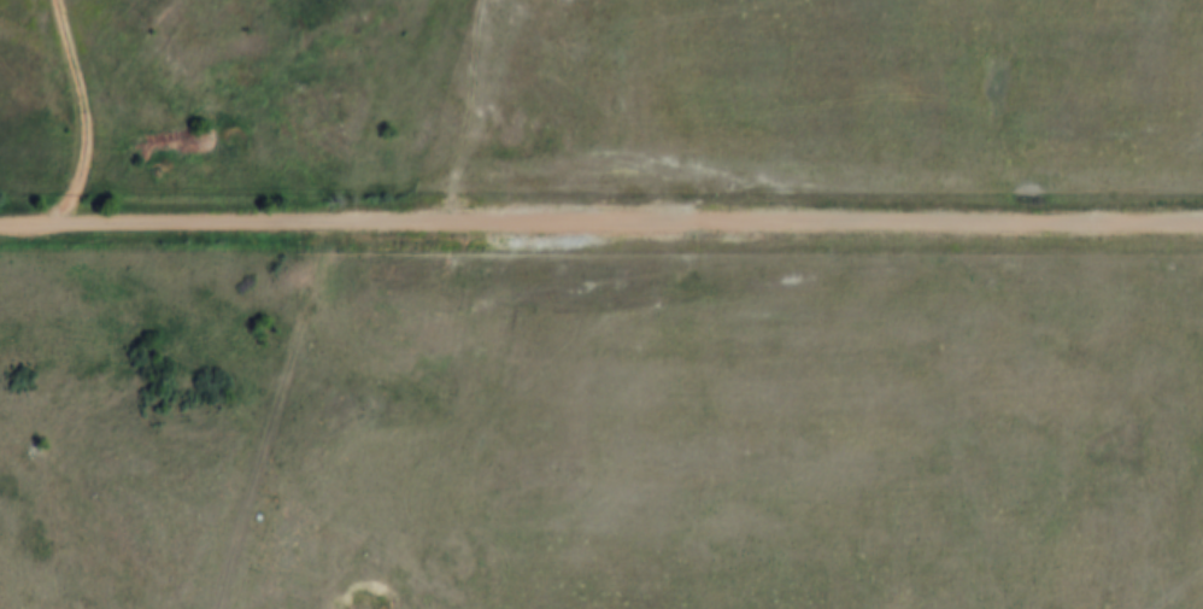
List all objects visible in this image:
road: (468, 116)
road: (601, 215)
road: (275, 411)

